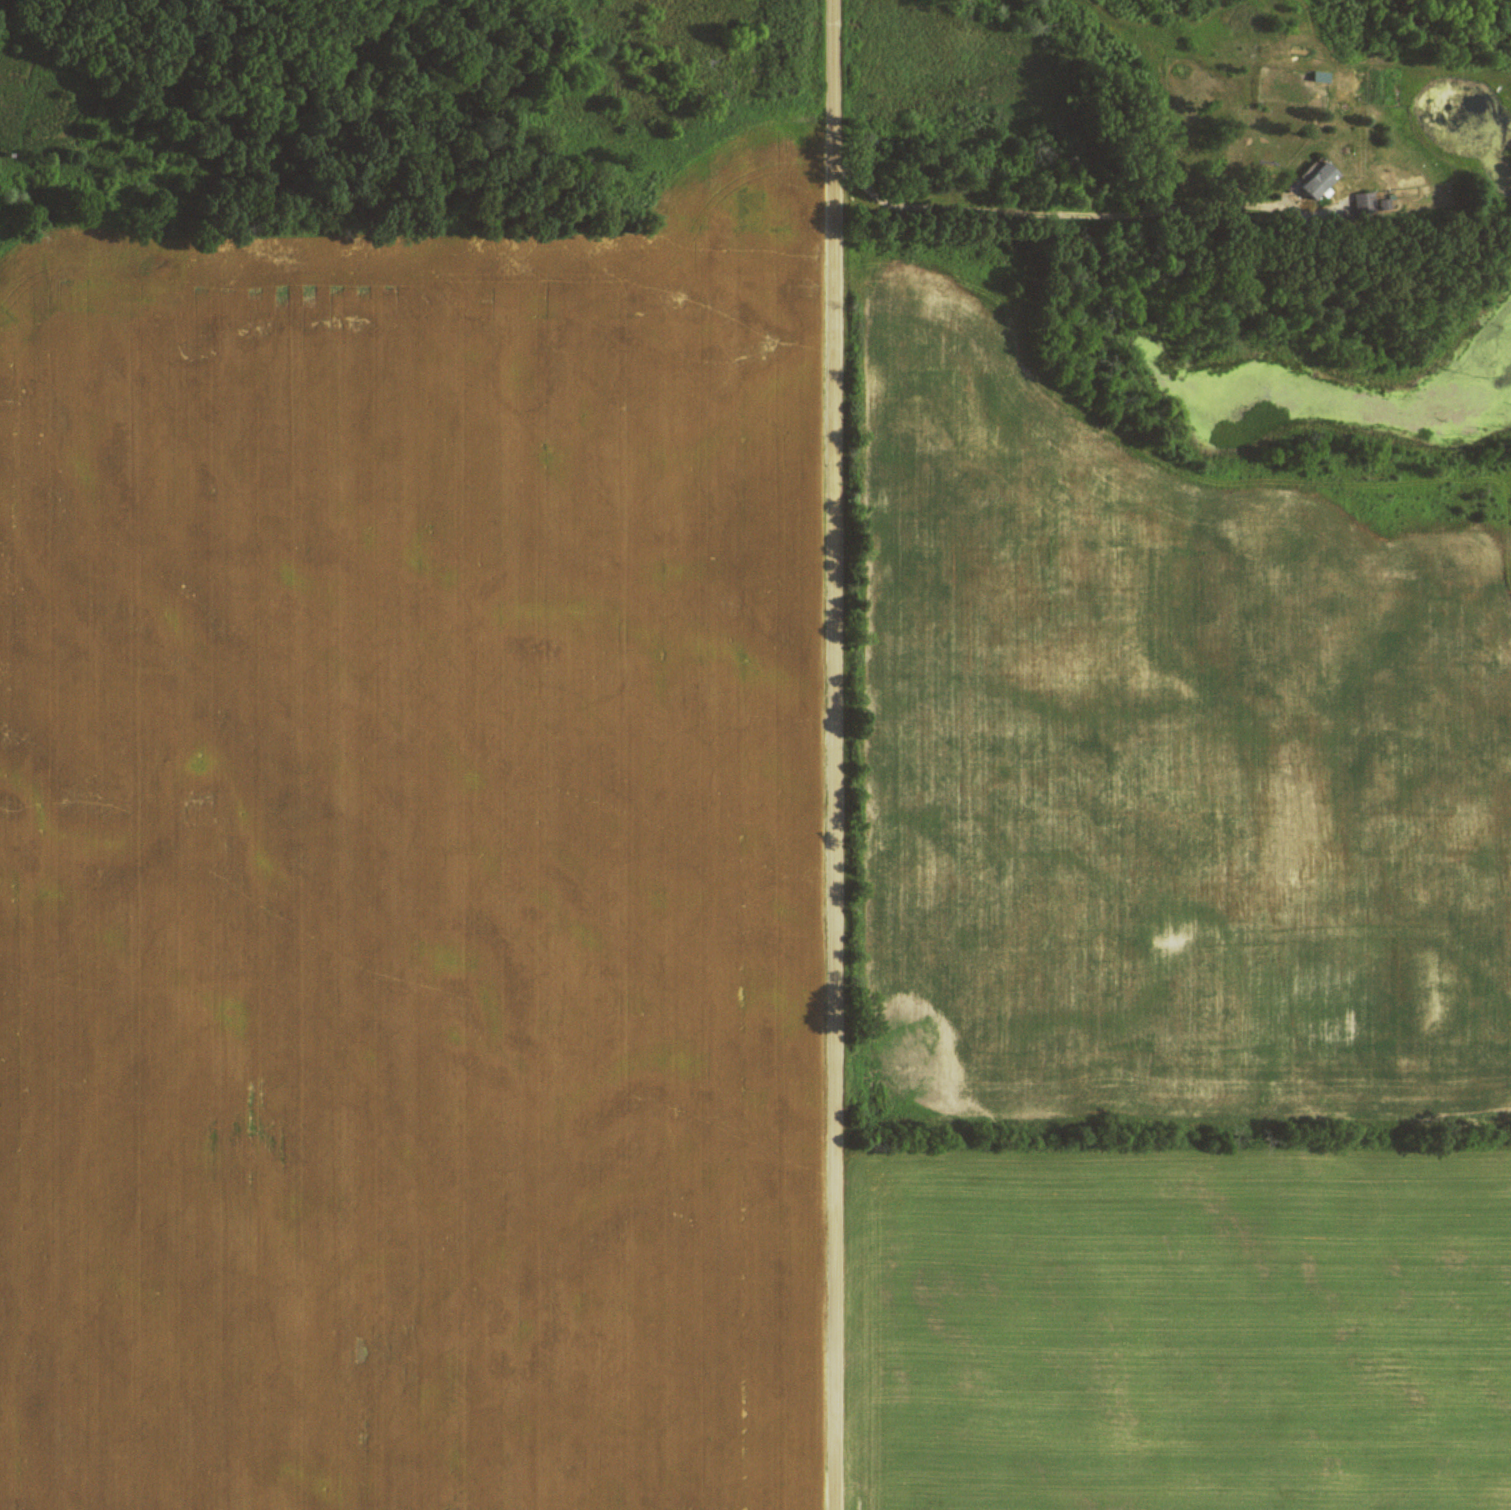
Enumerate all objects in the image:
building: (1313, 180)
road: (837, 754)

